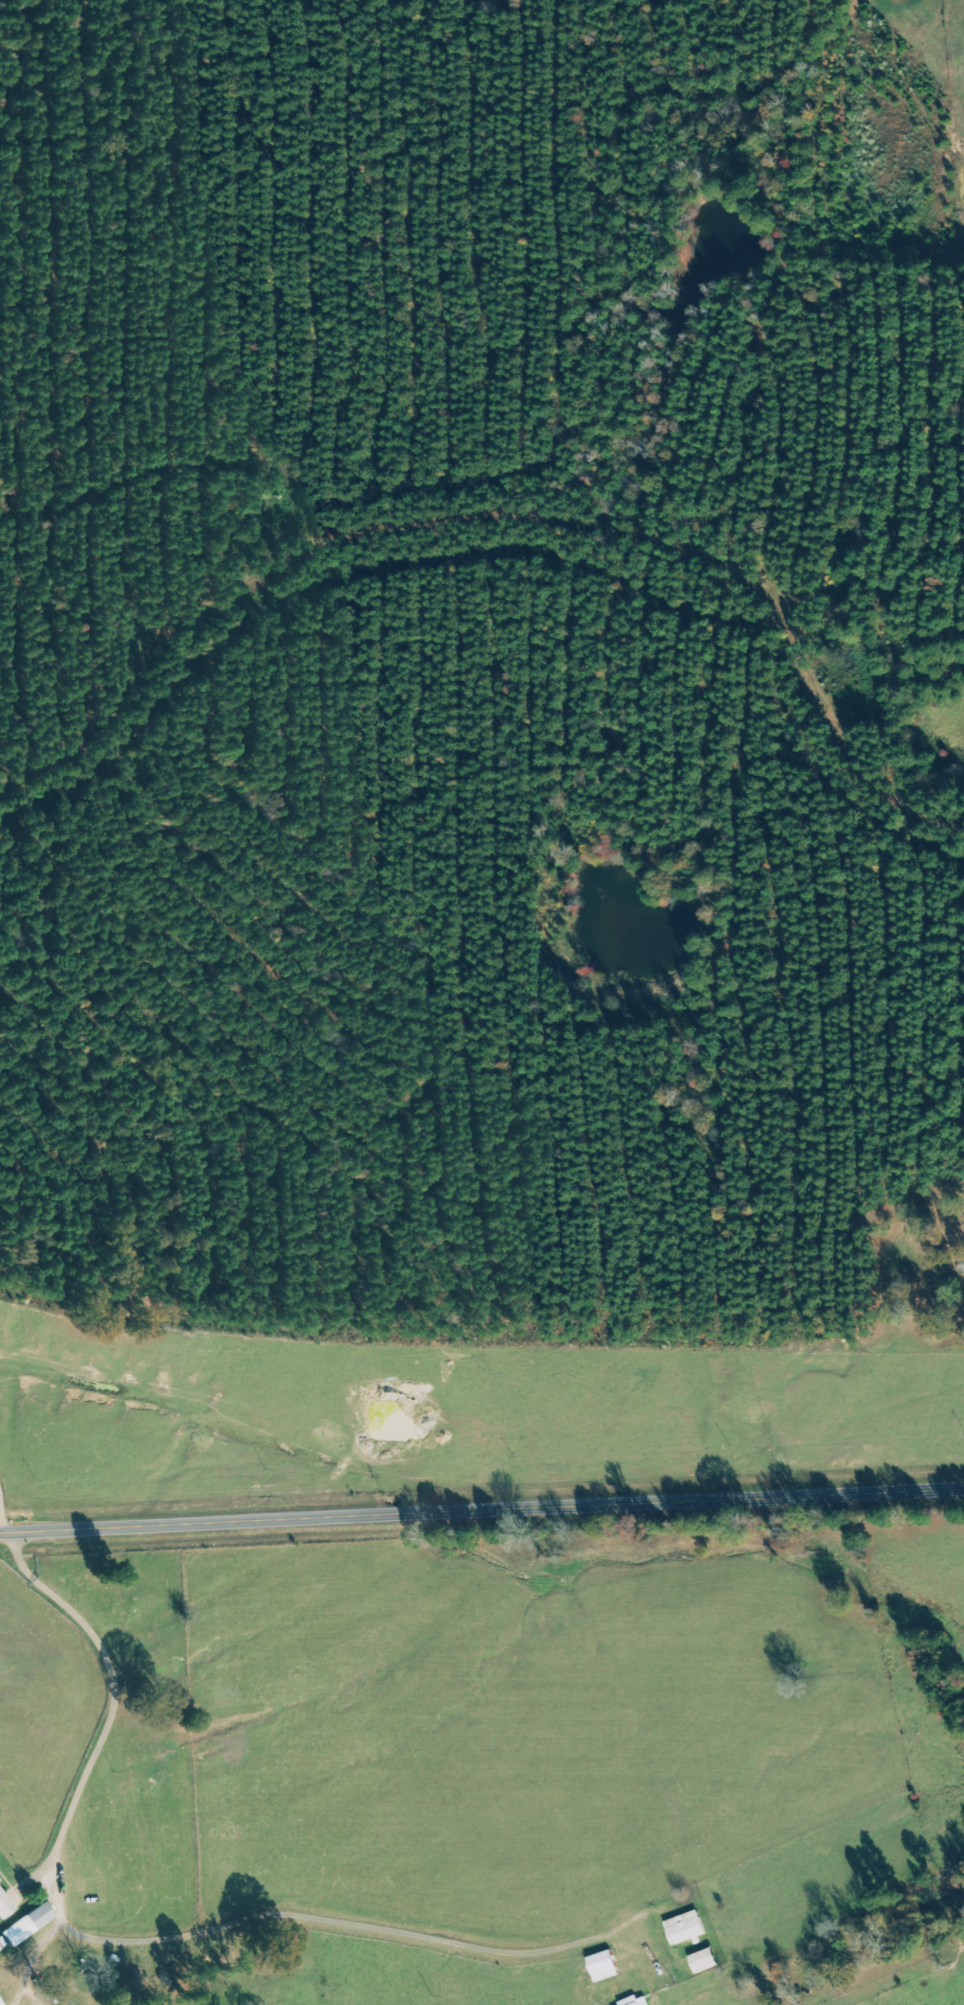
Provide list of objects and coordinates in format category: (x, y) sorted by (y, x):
building: (962, 1264)
road: (2, 1509)
road: (482, 1510)
building: (6, 1902)
building: (23, 1922)
building: (687, 1927)
road: (129, 1938)
building: (706, 1960)
building: (605, 1965)
building: (637, 2001)

